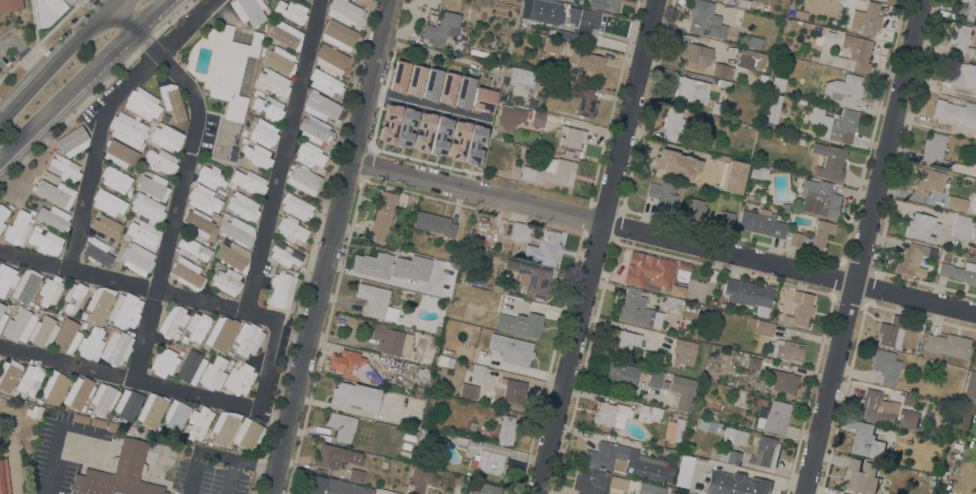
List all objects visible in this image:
building: (350, 0)
building: (840, 0)
road: (111, 1)
building: (534, 2)
building: (743, 3)
building: (10, 4)
building: (604, 4)
building: (766, 6)
building: (967, 9)
building: (48, 10)
building: (249, 10)
building: (343, 10)
building: (290, 11)
building: (546, 13)
building: (586, 16)
building: (705, 19)
building: (866, 19)
building: (442, 28)
building: (568, 32)
building: (285, 34)
building: (338, 34)
building: (961, 40)
road: (5, 41)
building: (750, 41)
building: (551, 45)
building: (457, 47)
road: (435, 53)
building: (480, 53)
building: (854, 54)
building: (696, 56)
building: (753, 57)
building: (973, 57)
building: (330, 58)
road: (56, 59)
building: (279, 60)
building: (589, 61)
building: (230, 69)
building: (723, 70)
building: (960, 74)
road: (82, 78)
building: (522, 80)
building: (273, 82)
building: (324, 82)
building: (430, 83)
building: (723, 83)
building: (777, 83)
building: (844, 88)
road: (95, 89)
building: (692, 89)
building: (772, 98)
building: (482, 99)
building: (172, 101)
building: (586, 102)
building: (142, 103)
road: (420, 103)
building: (320, 106)
building: (268, 107)
building: (716, 108)
road: (104, 112)
building: (955, 112)
building: (512, 115)
building: (537, 118)
building: (674, 123)
building: (838, 125)
building: (128, 130)
building: (314, 130)
building: (264, 133)
building: (461, 136)
building: (166, 137)
building: (571, 137)
building: (72, 140)
building: (933, 146)
building: (757, 147)
building: (567, 152)
building: (120, 153)
building: (309, 154)
building: (257, 155)
road: (282, 156)
building: (722, 157)
building: (160, 161)
building: (829, 161)
building: (675, 164)
building: (63, 167)
building: (554, 170)
building: (758, 171)
building: (209, 176)
road: (184, 177)
building: (734, 177)
building: (115, 178)
building: (303, 179)
building: (927, 179)
building: (248, 181)
building: (153, 187)
building: (56, 193)
building: (750, 196)
building: (662, 198)
building: (819, 198)
building: (203, 199)
building: (108, 202)
building: (956, 203)
building: (785, 205)
building: (243, 206)
building: (295, 206)
building: (147, 207)
building: (695, 210)
building: (382, 214)
building: (2, 215)
building: (53, 217)
building: (726, 218)
building: (761, 222)
building: (198, 223)
building: (434, 223)
building: (37, 227)
building: (103, 227)
building: (962, 227)
building: (18, 228)
building: (921, 228)
building: (238, 229)
building: (290, 229)
building: (520, 232)
building: (143, 234)
building: (821, 234)
road: (661, 238)
building: (795, 239)
building: (45, 242)
building: (298, 246)
road: (312, 246)
building: (550, 246)
road: (595, 246)
road: (326, 247)
road: (861, 247)
building: (192, 249)
building: (97, 251)
building: (284, 254)
building: (233, 255)
building: (137, 258)
building: (913, 259)
road: (33, 260)
building: (391, 265)
building: (959, 271)
building: (649, 272)
building: (681, 272)
building: (187, 273)
building: (5, 278)
building: (534, 279)
building: (227, 281)
building: (480, 282)
building: (26, 285)
building: (499, 289)
building: (50, 290)
building: (280, 290)
building: (676, 290)
road: (172, 294)
building: (694, 294)
building: (748, 294)
building: (73, 296)
building: (373, 299)
building: (99, 302)
building: (671, 304)
building: (637, 309)
building: (799, 309)
building: (124, 310)
building: (2, 315)
building: (533, 320)
building: (173, 322)
building: (19, 324)
building: (198, 326)
building: (767, 327)
building: (43, 331)
building: (220, 332)
building: (891, 332)
building: (67, 335)
building: (500, 336)
building: (248, 338)
building: (392, 340)
building: (625, 340)
building: (91, 343)
building: (947, 344)
building: (116, 347)
building: (784, 349)
building: (519, 350)
building: (684, 351)
building: (648, 357)
building: (490, 358)
building: (445, 361)
building: (164, 362)
building: (753, 363)
road: (267, 365)
building: (886, 365)
building: (351, 366)
building: (190, 367)
building: (213, 373)
building: (477, 373)
building: (620, 373)
building: (9, 374)
building: (423, 374)
building: (652, 377)
road: (128, 378)
building: (239, 379)
building: (29, 380)
building: (783, 380)
building: (674, 382)
building: (54, 386)
building: (512, 389)
building: (417, 390)
building: (468, 390)
building: (78, 392)
building: (355, 396)
building: (685, 396)
building: (103, 398)
building: (906, 399)
building: (967, 401)
building: (127, 403)
building: (876, 405)
building: (151, 409)
building: (611, 414)
building: (648, 414)
building: (175, 415)
building: (773, 417)
building: (81, 418)
building: (908, 418)
building: (97, 422)
building: (198, 422)
building: (341, 425)
building: (470, 425)
building: (708, 425)
building: (111, 426)
building: (224, 426)
building: (506, 429)
building: (675, 429)
building: (933, 430)
building: (248, 433)
building: (428, 433)
building: (734, 435)
building: (33, 436)
building: (208, 438)
building: (460, 440)
building: (867, 441)
park: (18, 442)
building: (406, 445)
building: (692, 450)
building: (673, 451)
building: (766, 451)
road: (213, 452)
building: (335, 456)
building: (730, 456)
building: (487, 461)
building: (629, 461)
road: (15, 469)
building: (684, 470)
building: (118, 473)
building: (355, 475)
building: (419, 475)
building: (860, 476)
building: (4, 477)
building: (591, 481)
building: (736, 483)
building: (335, 486)
building: (484, 488)
building: (650, 489)
building: (387, 491)
building: (671, 493)
building: (674, 493)
building: (842, 493)

